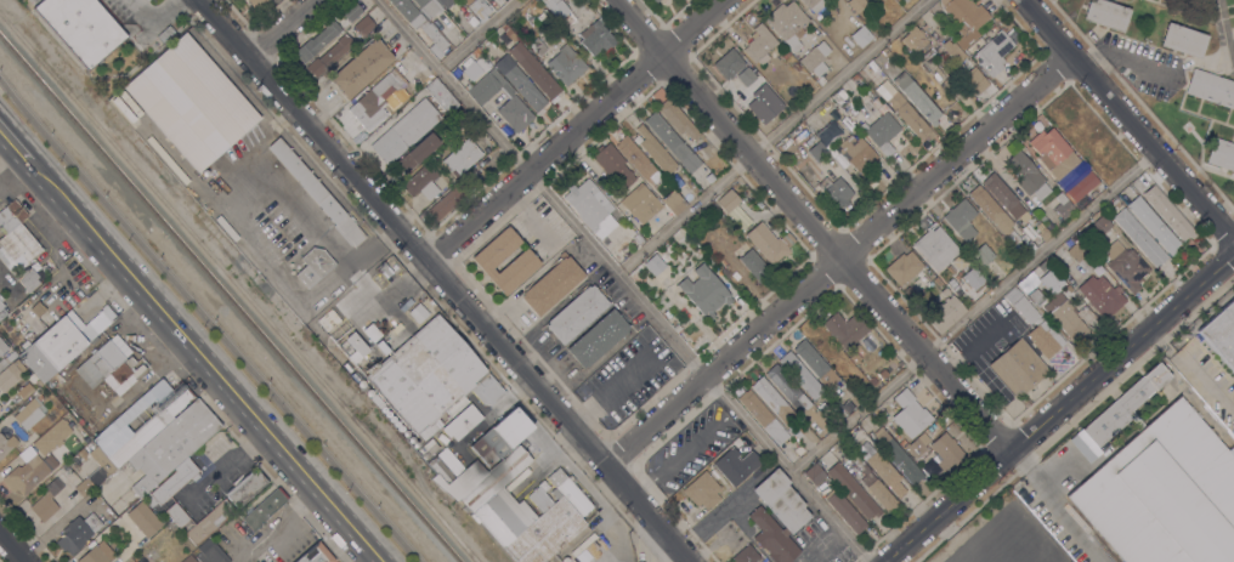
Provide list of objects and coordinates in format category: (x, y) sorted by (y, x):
building: (655, 1)
building: (1233, 1)
building: (446, 2)
building: (255, 4)
building: (856, 4)
building: (813, 5)
building: (556, 7)
building: (430, 10)
building: (479, 10)
building: (351, 11)
road: (149, 12)
building: (1105, 15)
building: (966, 18)
building: (548, 22)
building: (787, 23)
building: (363, 24)
building: (419, 24)
building: (81, 28)
road: (279, 28)
building: (452, 33)
building: (509, 33)
road: (477, 34)
road: (1223, 34)
building: (860, 35)
building: (596, 39)
building: (317, 40)
building: (915, 40)
building: (1183, 40)
building: (759, 45)
building: (537, 46)
building: (952, 50)
building: (990, 51)
building: (783, 53)
building: (328, 56)
building: (815, 58)
building: (728, 63)
building: (566, 64)
building: (796, 66)
building: (361, 67)
building: (933, 67)
building: (471, 70)
building: (534, 70)
road: (1155, 70)
building: (746, 76)
building: (855, 78)
building: (975, 79)
building: (520, 83)
building: (1211, 89)
building: (380, 93)
building: (440, 95)
building: (916, 97)
building: (191, 102)
building: (513, 102)
building: (877, 102)
building: (757, 107)
building: (907, 114)
building: (458, 119)
building: (677, 119)
road: (1127, 120)
building: (1026, 126)
road: (574, 130)
building: (404, 131)
building: (882, 132)
building: (828, 135)
road: (770, 136)
building: (672, 142)
road: (13, 143)
building: (655, 152)
building: (816, 152)
building: (417, 153)
building: (856, 153)
building: (1053, 153)
building: (1222, 154)
building: (462, 157)
building: (638, 159)
building: (881, 164)
building: (612, 165)
road: (13, 170)
building: (1026, 175)
building: (708, 177)
building: (423, 182)
building: (734, 186)
building: (1080, 186)
building: (834, 191)
building: (317, 193)
building: (746, 193)
building: (1004, 198)
building: (726, 200)
building: (446, 203)
building: (640, 203)
building: (673, 203)
building: (1063, 205)
building: (590, 206)
building: (1166, 211)
building: (994, 214)
building: (961, 220)
building: (1153, 225)
building: (1103, 226)
road: (810, 227)
building: (1028, 232)
building: (1042, 232)
building: (1139, 237)
building: (16, 238)
building: (636, 238)
building: (787, 238)
building: (766, 243)
building: (935, 248)
road: (259, 252)
building: (983, 255)
building: (1080, 255)
building: (486, 260)
road: (837, 260)
building: (656, 262)
building: (754, 265)
building: (313, 266)
building: (1125, 266)
building: (902, 267)
building: (45, 269)
building: (384, 269)
road: (445, 279)
building: (29, 280)
road: (623, 280)
building: (551, 284)
building: (1054, 284)
building: (1025, 289)
building: (704, 291)
building: (944, 293)
building: (1100, 295)
railway: (230, 299)
building: (1020, 305)
building: (1, 308)
building: (38, 310)
road: (972, 311)
building: (418, 313)
building: (576, 313)
building: (945, 314)
building: (1065, 317)
building: (328, 319)
road: (208, 322)
building: (845, 329)
building: (370, 333)
building: (1221, 334)
building: (599, 337)
building: (1045, 337)
building: (2, 347)
building: (355, 347)
building: (381, 347)
building: (52, 348)
building: (854, 357)
building: (6, 359)
road: (204, 362)
building: (815, 363)
building: (108, 364)
building: (1017, 368)
building: (800, 375)
road: (1190, 375)
building: (9, 376)
building: (431, 377)
road: (601, 384)
building: (787, 387)
building: (1229, 388)
building: (377, 401)
building: (774, 401)
building: (1123, 405)
building: (0, 407)
road: (1058, 407)
building: (0, 411)
building: (29, 411)
building: (910, 414)
building: (763, 416)
building: (462, 420)
building: (1136, 420)
building: (151, 424)
building: (794, 431)
building: (51, 437)
building: (500, 437)
building: (922, 441)
building: (6, 444)
building: (1082, 444)
building: (171, 445)
building: (428, 448)
building: (859, 450)
building: (946, 452)
building: (80, 453)
building: (725, 454)
building: (899, 458)
building: (28, 471)
building: (95, 472)
building: (885, 472)
building: (814, 475)
building: (171, 482)
building: (873, 484)
building: (244, 488)
building: (702, 490)
building: (851, 490)
building: (1164, 493)
building: (46, 500)
building: (514, 504)
road: (1052, 507)
building: (265, 509)
building: (845, 511)
building: (176, 515)
building: (776, 516)
building: (143, 518)
building: (209, 521)
building: (77, 533)
airport: (1001, 535)
airport apron: (1012, 540)
road: (13, 546)
building: (97, 554)
building: (210, 554)
building: (315, 555)
building: (746, 555)
building: (583, 556)
building: (145, 558)
building: (188, 558)
building: (254, 561)

